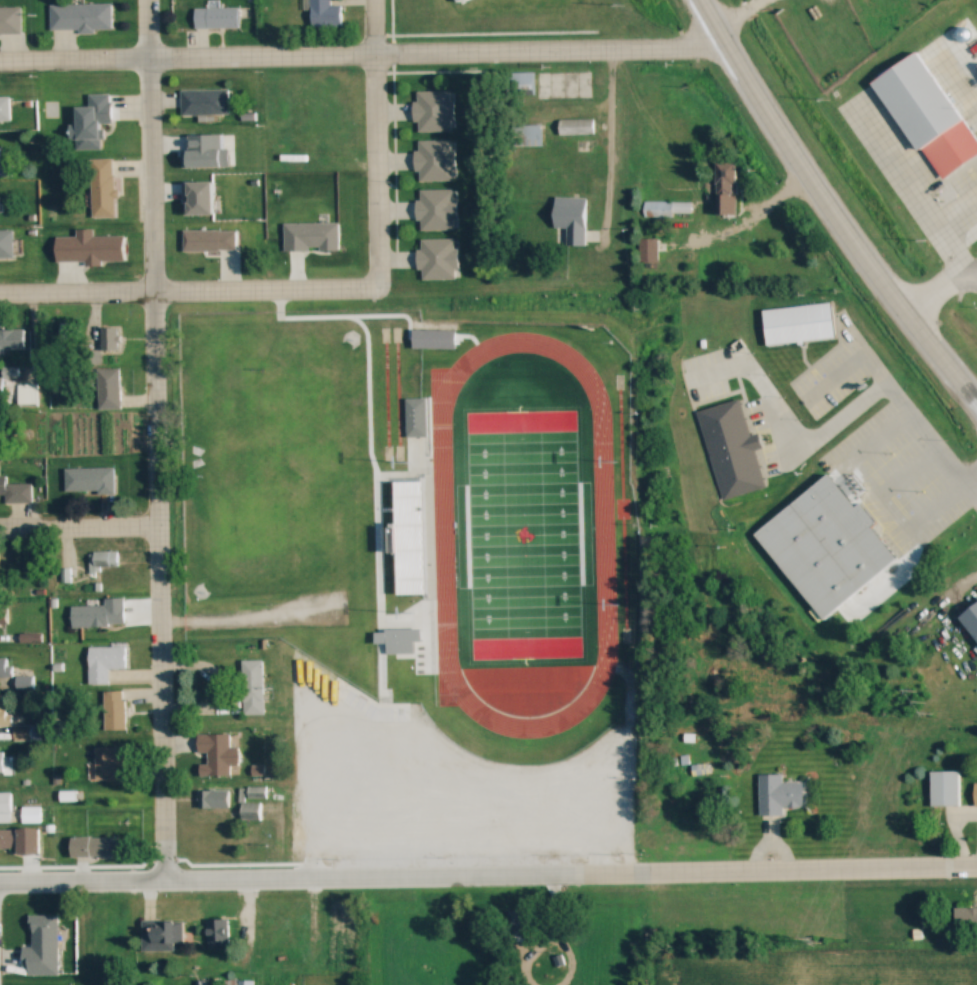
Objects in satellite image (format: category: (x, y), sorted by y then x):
road: (734, 13)
building: (324, 14)
building: (81, 18)
building: (216, 18)
building: (3, 19)
road: (435, 51)
road: (75, 58)
building: (522, 83)
building: (564, 85)
building: (205, 103)
road: (567, 106)
building: (4, 110)
building: (434, 111)
building: (911, 115)
building: (93, 122)
building: (576, 127)
building: (529, 136)
road: (375, 143)
road: (610, 143)
building: (205, 151)
building: (322, 153)
building: (435, 161)
building: (5, 169)
road: (912, 187)
building: (103, 188)
building: (725, 188)
building: (13, 190)
road: (774, 194)
building: (667, 208)
building: (437, 209)
road: (826, 209)
building: (571, 219)
building: (209, 241)
building: (6, 244)
building: (648, 249)
building: (438, 259)
road: (939, 289)
road: (77, 294)
road: (265, 295)
building: (799, 324)
building: (11, 339)
building: (110, 339)
building: (4, 389)
building: (109, 389)
road: (888, 391)
building: (27, 394)
building: (416, 417)
road: (784, 425)
road: (157, 440)
building: (731, 450)
building: (420, 470)
road: (901, 475)
building: (89, 480)
building: (18, 492)
road: (877, 510)
track: (598, 525)
road: (79, 526)
park: (523, 532)
building: (826, 545)
building: (97, 615)
road: (282, 615)
building: (298, 649)
building: (105, 662)
building: (4, 668)
building: (24, 682)
building: (252, 687)
power tower: (924, 701)
building: (4, 709)
building: (115, 709)
road: (220, 717)
building: (218, 752)
building: (2, 762)
building: (111, 763)
building: (699, 769)
building: (945, 787)
building: (256, 792)
building: (778, 794)
building: (975, 794)
building: (213, 798)
building: (5, 807)
building: (250, 811)
building: (30, 814)
building: (314, 826)
building: (611, 829)
building: (21, 840)
building: (98, 847)
road: (570, 873)
road: (82, 881)
building: (965, 916)
building: (519, 922)
building: (337, 923)
building: (217, 931)
building: (161, 935)
power tower: (816, 940)
building: (42, 947)
building: (236, 982)

